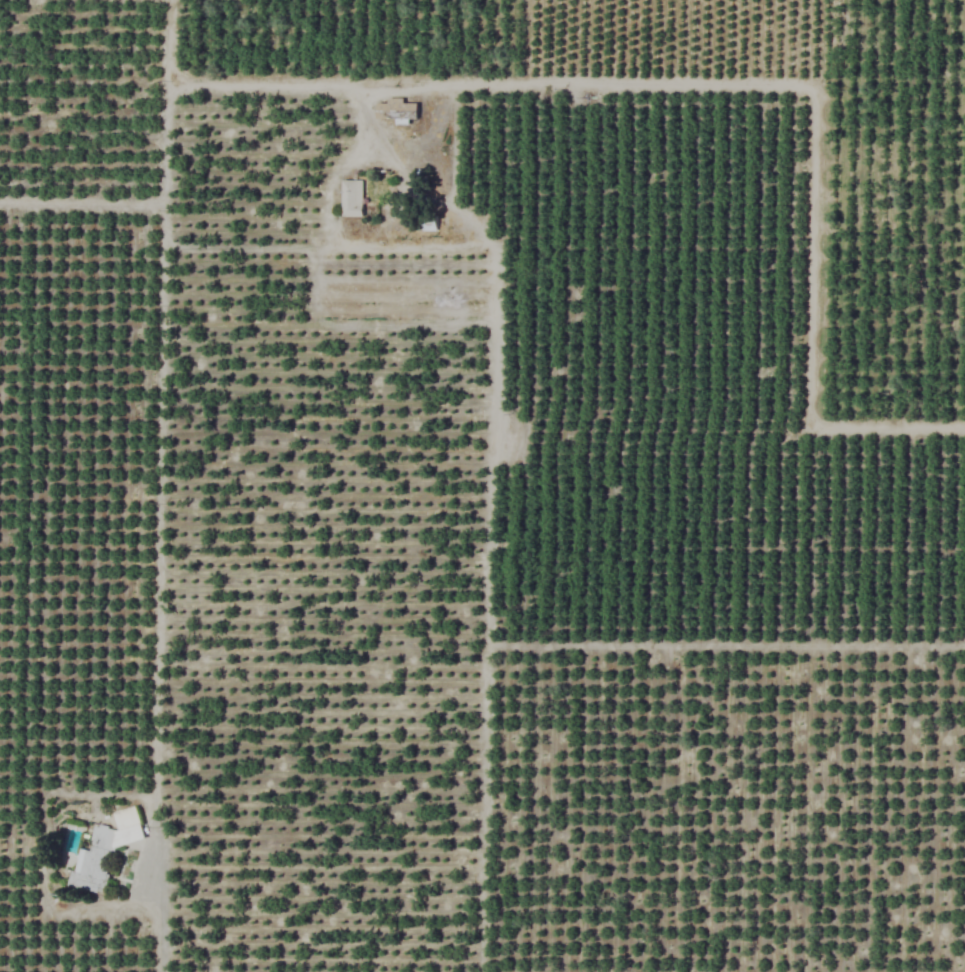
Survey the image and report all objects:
road: (453, 77)
building: (396, 111)
building: (352, 198)
road: (151, 212)
building: (428, 224)
road: (488, 445)
crop: (482, 486)
road: (156, 593)
building: (105, 851)

